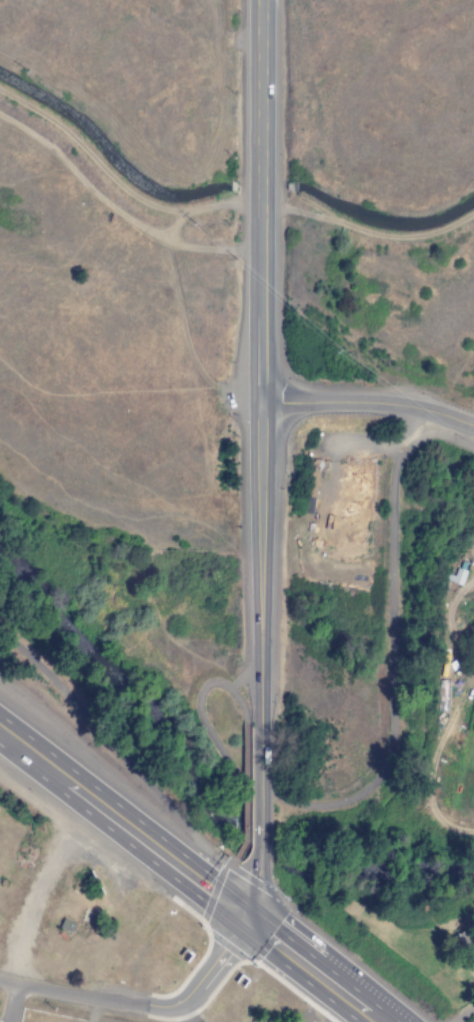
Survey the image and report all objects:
road: (259, 358)
road: (368, 401)
road: (391, 653)
road: (241, 679)
road: (197, 702)
road: (6, 731)
road: (116, 748)
crop: (449, 759)
river: (193, 787)
road: (244, 791)
road: (254, 791)
road: (232, 862)
road: (241, 874)
road: (196, 878)
road: (41, 885)
road: (251, 890)
traffic signals: (242, 913)
building: (465, 949)
road: (9, 1002)
road: (146, 1010)
road: (464, 1014)

